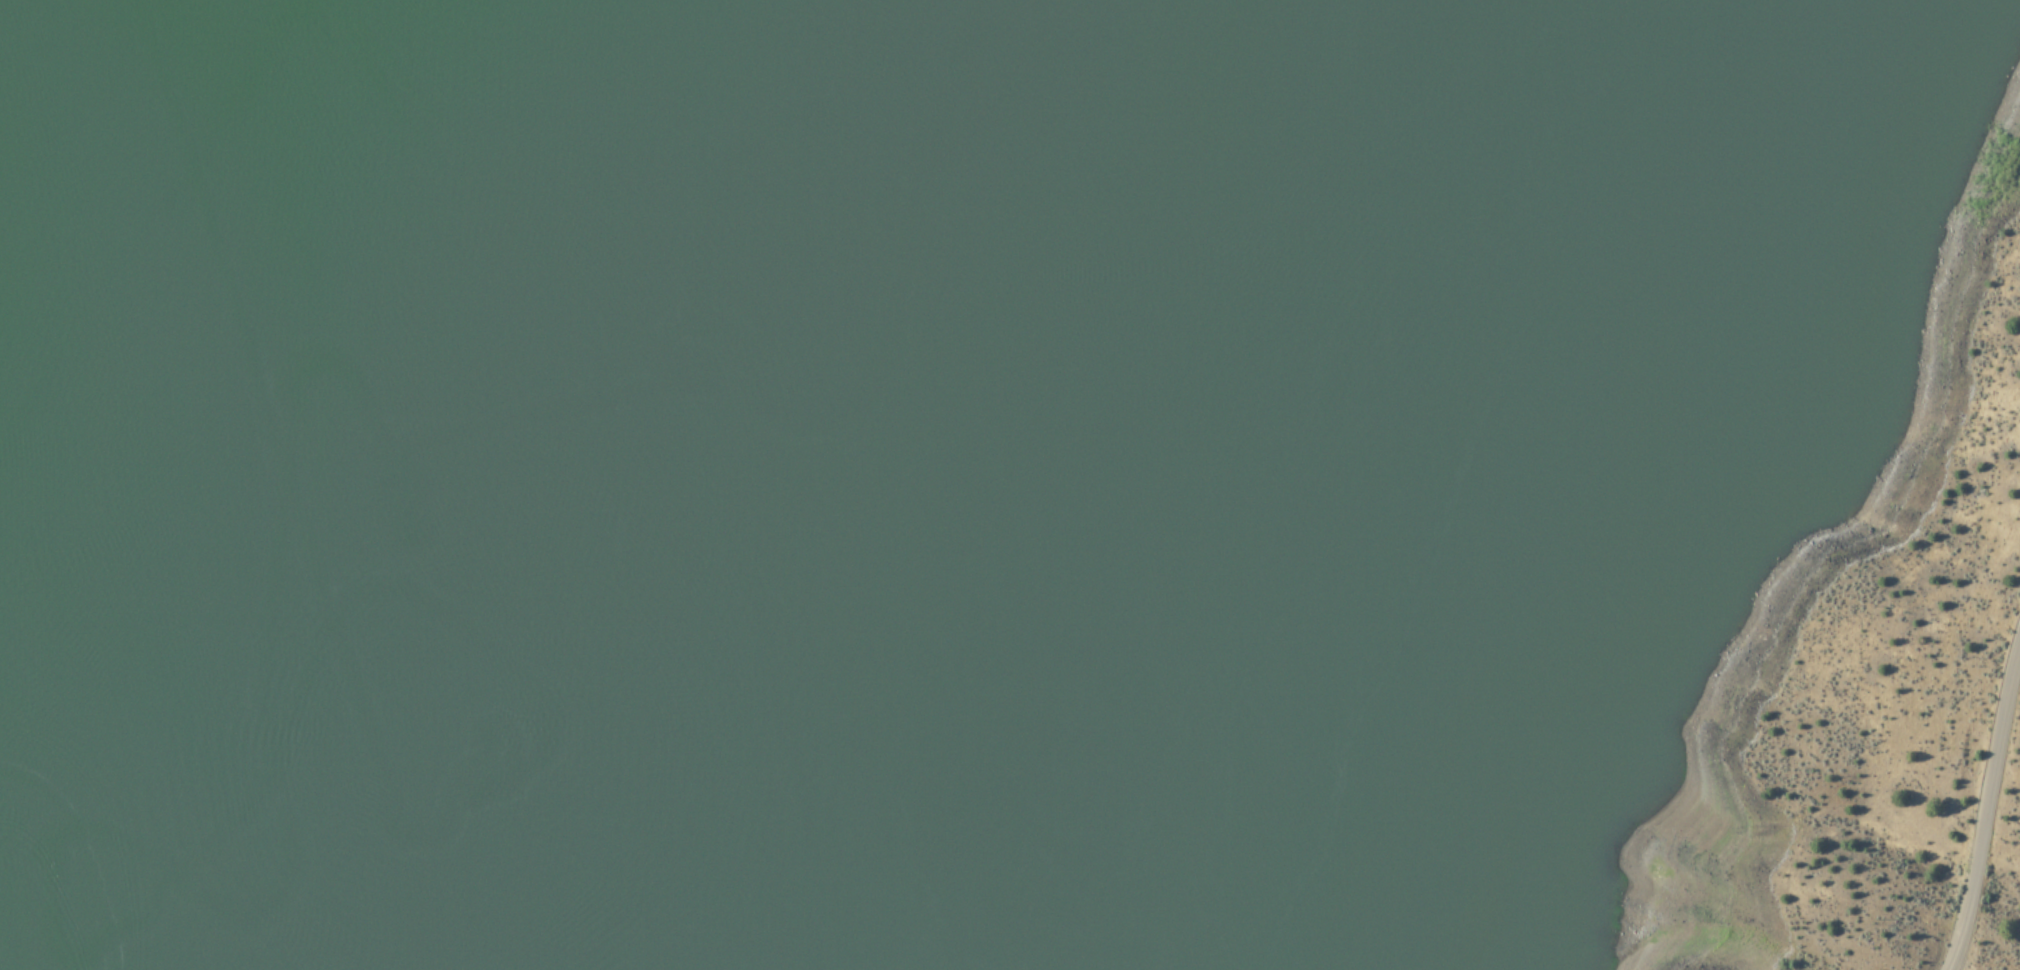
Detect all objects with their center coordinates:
river: (340, 268)
river: (33, 566)
road: (1987, 816)
river: (45, 872)

